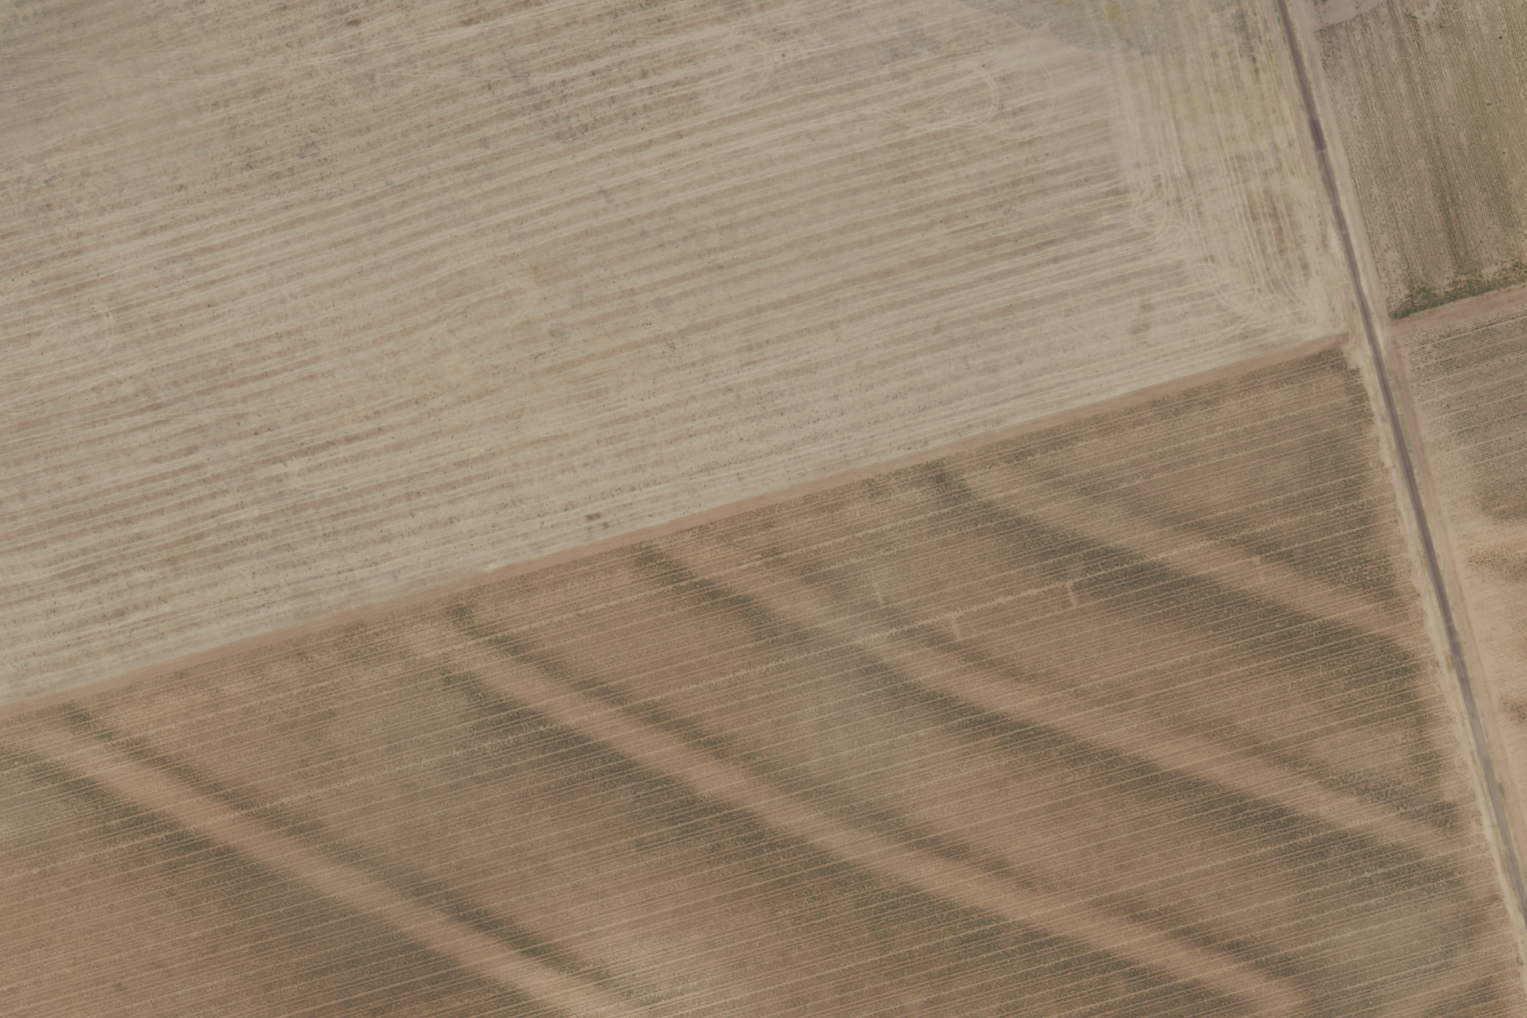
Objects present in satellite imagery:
road: (1397, 501)

